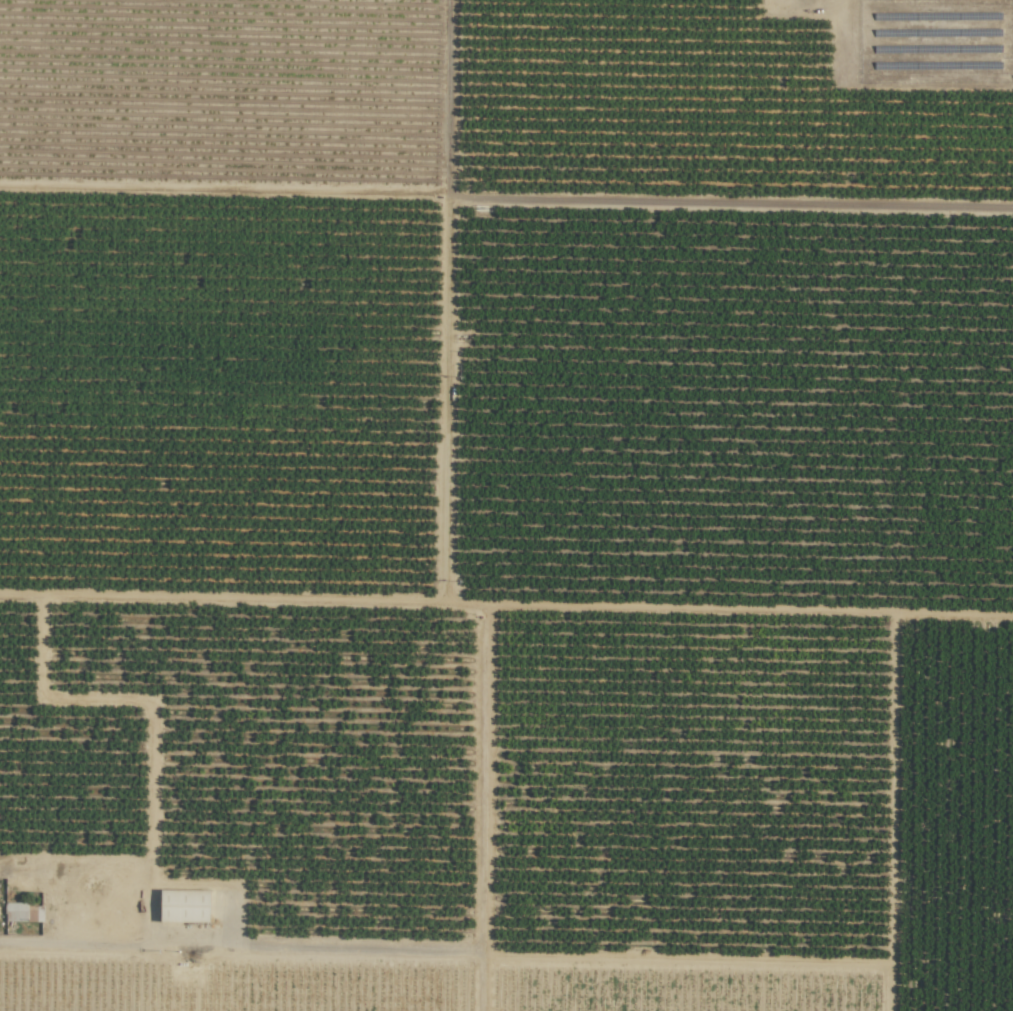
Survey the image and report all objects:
road: (851, 33)
road: (160, 776)
building: (182, 905)

